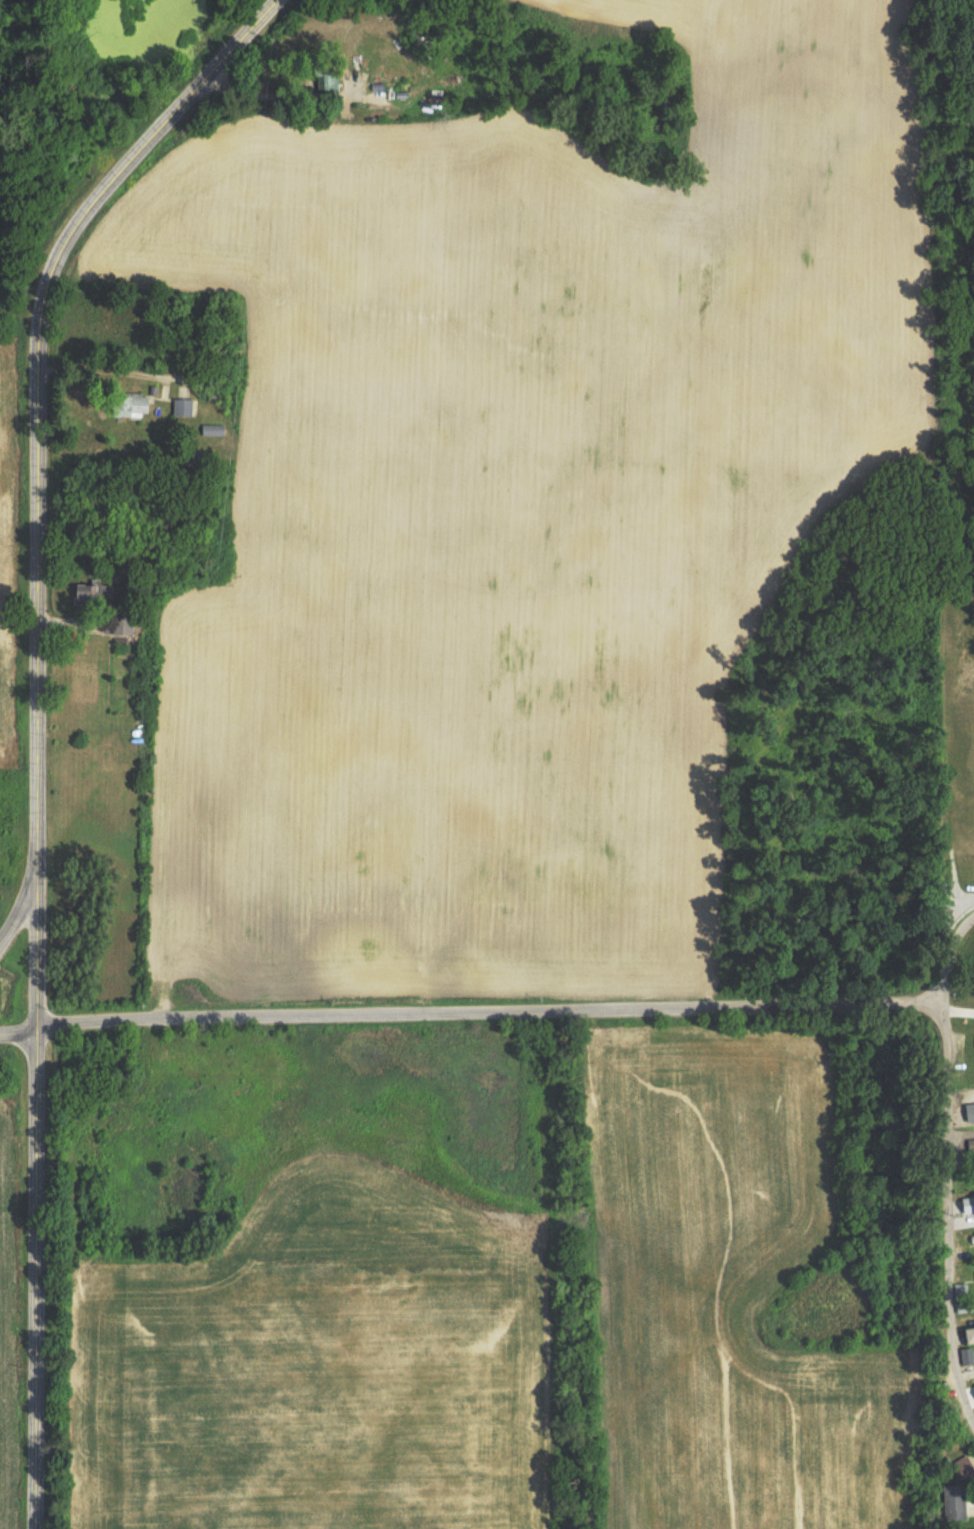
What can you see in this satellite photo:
building: (325, 79)
building: (127, 405)
building: (181, 406)
building: (88, 595)
building: (125, 625)
road: (35, 721)
road: (21, 901)
road: (485, 1019)
road: (18, 1043)
road: (945, 1171)
building: (963, 1290)
building: (965, 1307)
building: (973, 1333)
building: (966, 1464)
building: (957, 1500)

